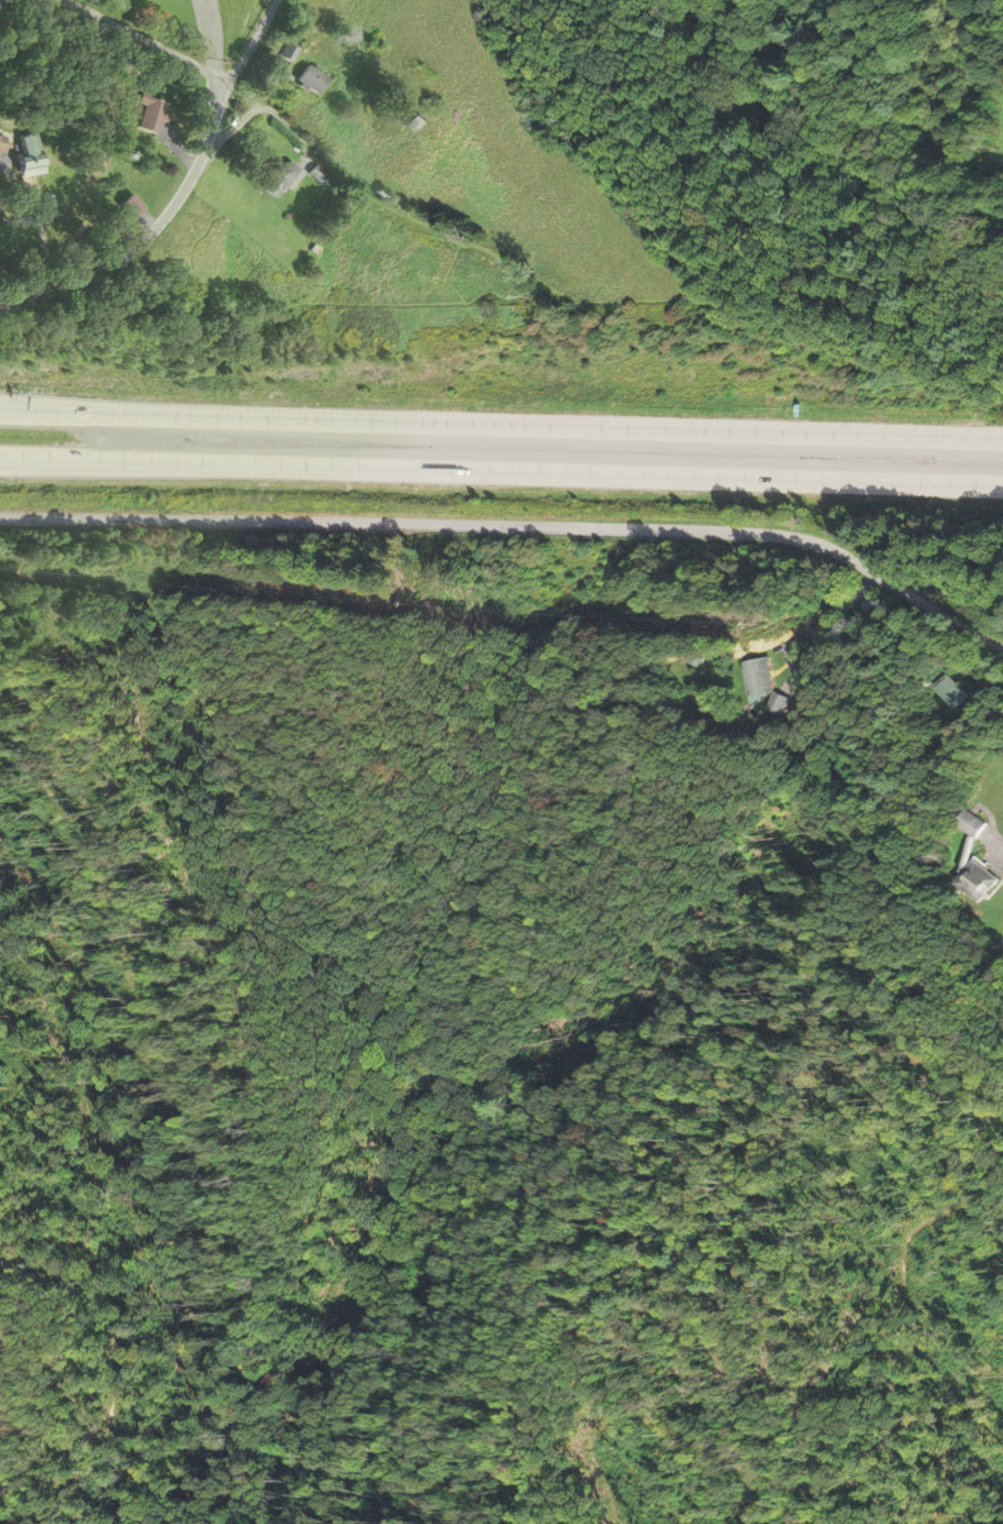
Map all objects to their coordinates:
road: (3, 1)
road: (144, 39)
road: (216, 46)
road: (248, 46)
building: (311, 77)
building: (148, 112)
building: (1, 142)
building: (29, 154)
building: (275, 173)
road: (34, 228)
road: (145, 236)
road: (29, 416)
road: (501, 430)
road: (501, 475)
road: (517, 522)
building: (765, 682)
building: (955, 692)
building: (976, 879)

